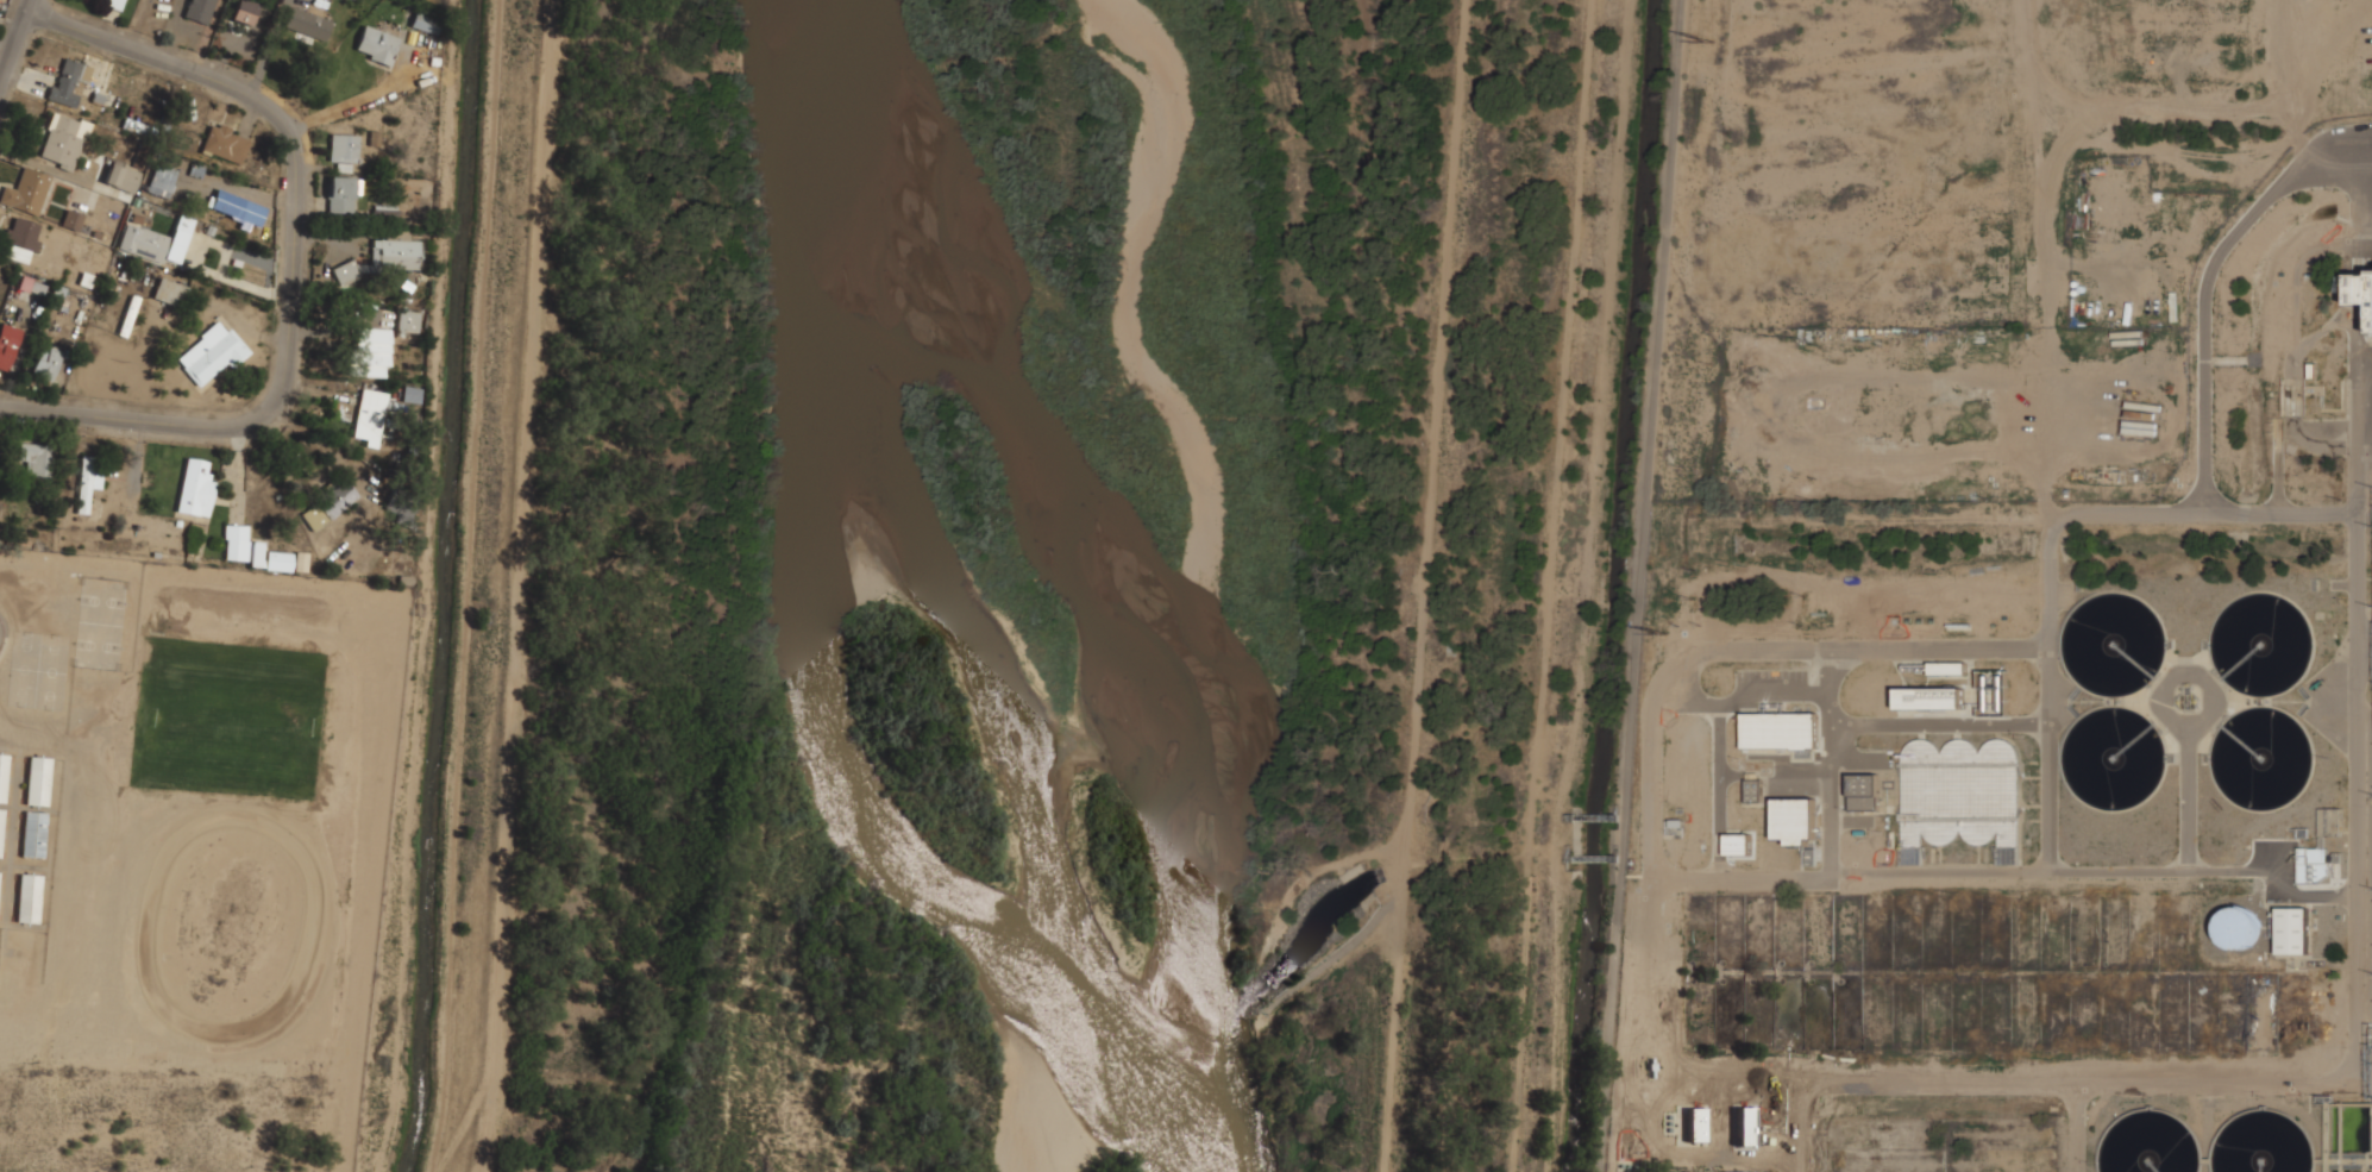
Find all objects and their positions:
building: (115, 4)
building: (199, 10)
building: (244, 11)
building: (423, 21)
building: (307, 23)
road: (14, 35)
building: (376, 44)
building: (68, 81)
building: (62, 139)
building: (225, 143)
building: (344, 148)
building: (123, 175)
building: (162, 180)
building: (25, 190)
building: (343, 194)
building: (236, 206)
building: (73, 219)
road: (1362, 228)
building: (21, 236)
building: (156, 240)
building: (395, 250)
road: (293, 262)
building: (346, 272)
building: (81, 276)
building: (2360, 289)
building: (170, 290)
building: (408, 320)
building: (7, 345)
building: (212, 351)
building: (372, 352)
building: (48, 363)
building: (410, 394)
building: (369, 416)
building: (37, 458)
building: (88, 481)
building: (196, 488)
building: (330, 506)
building: (259, 551)
river: (1073, 572)
road: (1433, 585)
road: (1639, 585)
building: (1931, 696)
wastewater plant: (2018, 697)
building: (1781, 729)
building: (4, 775)
building: (38, 779)
building: (1752, 789)
building: (1863, 790)
building: (1960, 792)
building: (1797, 823)
building: (1674, 825)
building: (1, 829)
building: (33, 833)
building: (1739, 842)
building: (2315, 863)
building: (29, 897)
building: (2239, 925)
storage tank: (2239, 925)
building: (2292, 929)
building: (1698, 1124)

